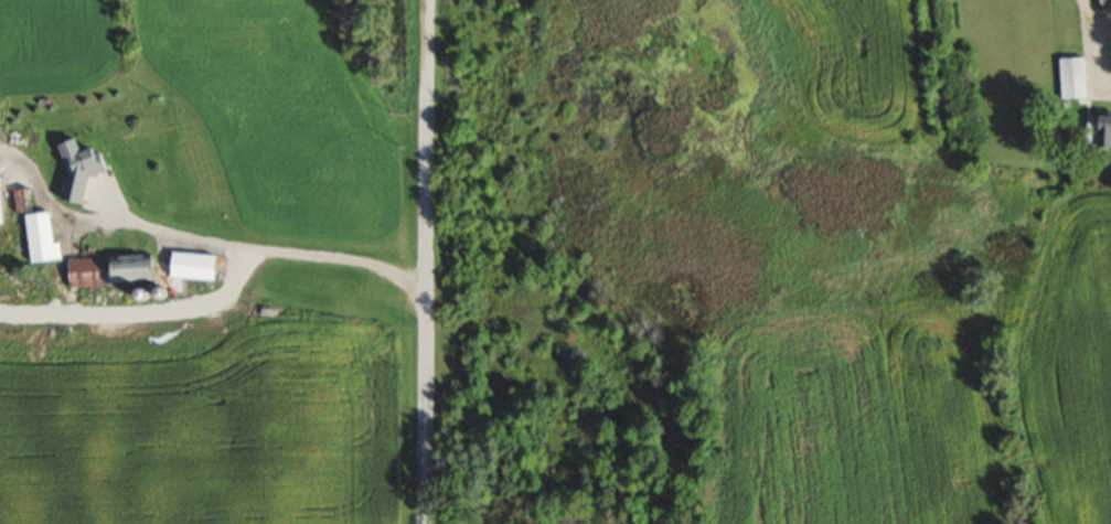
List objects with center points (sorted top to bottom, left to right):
building: (1069, 77)
building: (1097, 130)
building: (74, 170)
road: (115, 220)
building: (39, 236)
road: (344, 257)
road: (426, 261)
building: (106, 269)
road: (138, 310)

